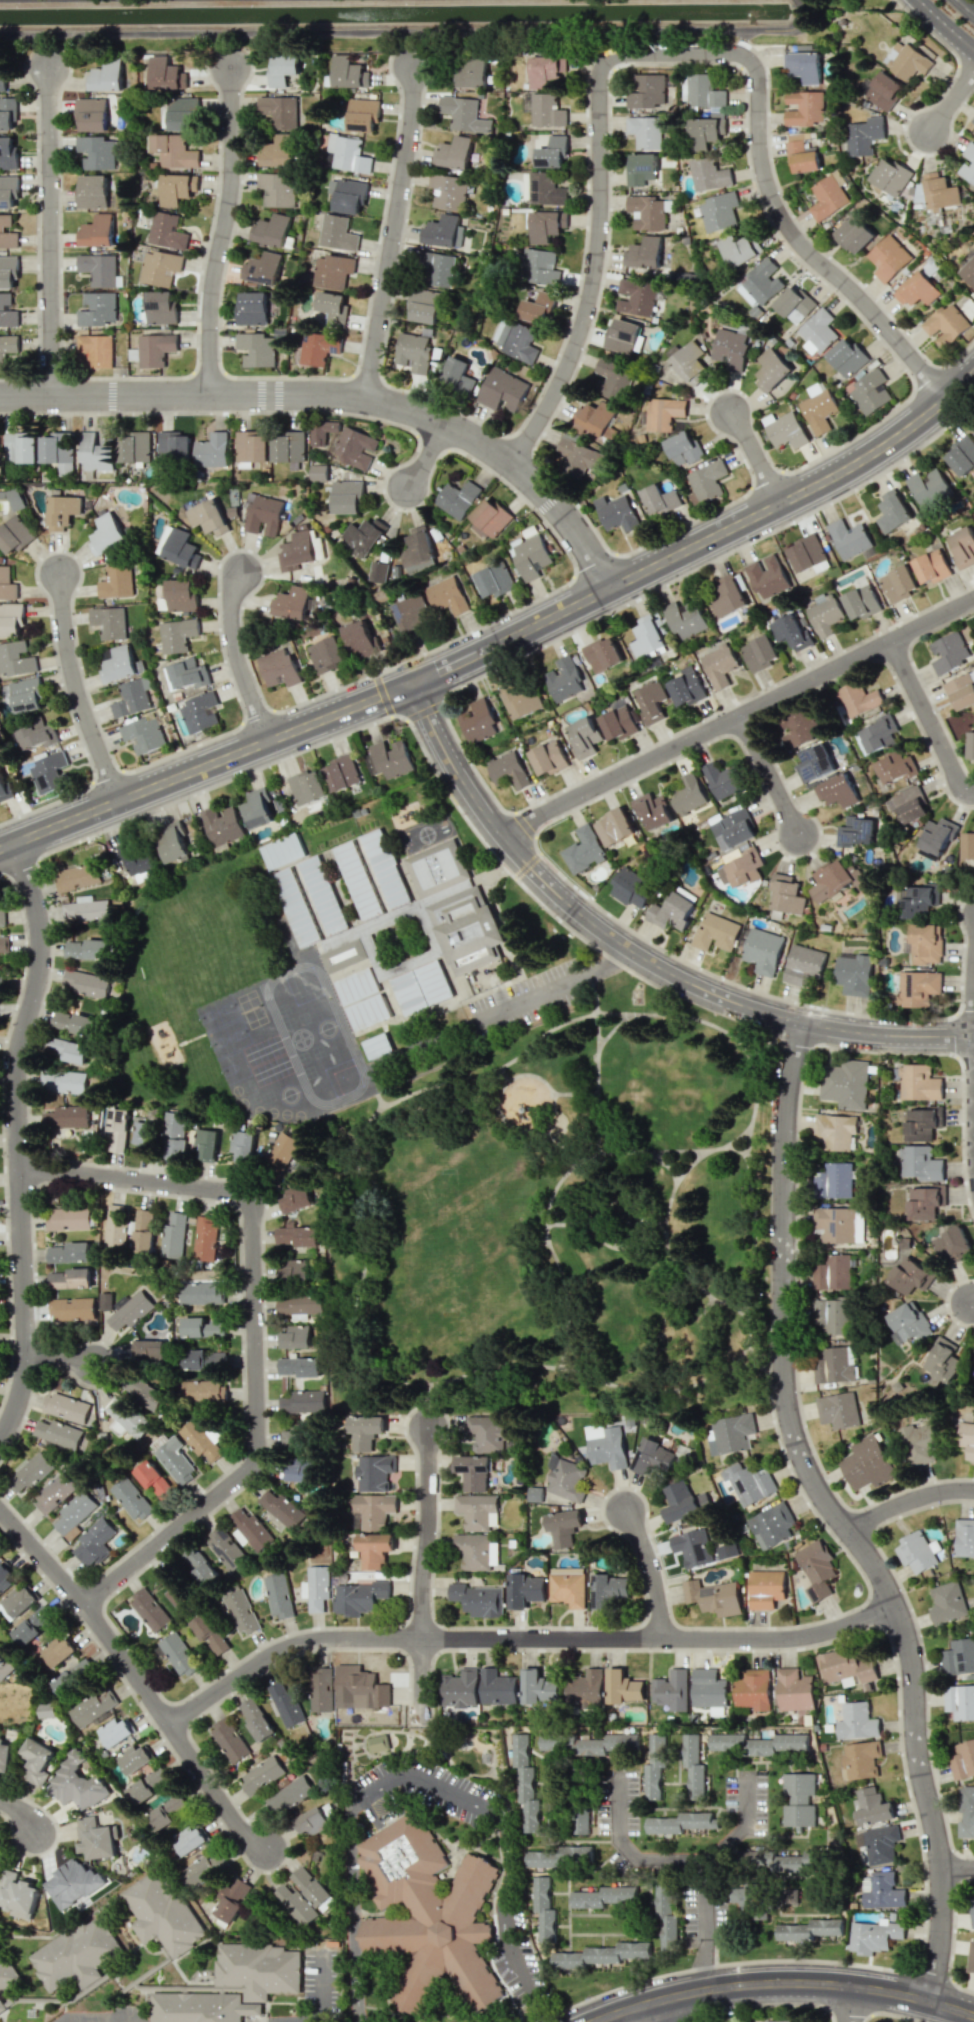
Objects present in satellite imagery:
road: (965, 6)
road: (943, 27)
road: (413, 31)
road: (740, 42)
road: (675, 55)
building: (906, 60)
building: (804, 66)
building: (283, 69)
building: (546, 70)
building: (168, 73)
building: (349, 73)
building: (472, 73)
building: (108, 76)
building: (2, 81)
building: (884, 90)
building: (647, 91)
road: (953, 99)
building: (804, 108)
building: (280, 110)
building: (547, 110)
building: (7, 113)
building: (164, 113)
building: (91, 114)
building: (182, 114)
building: (363, 114)
building: (464, 114)
building: (973, 119)
building: (645, 131)
building: (706, 131)
building: (863, 135)
building: (174, 151)
building: (279, 151)
building: (7, 152)
building: (97, 152)
building: (455, 152)
building: (552, 152)
building: (348, 153)
building: (801, 154)
building: (967, 163)
building: (641, 169)
building: (708, 174)
building: (890, 176)
building: (176, 188)
building: (278, 189)
building: (542, 189)
building: (8, 191)
building: (448, 191)
building: (940, 192)
building: (93, 193)
building: (348, 195)
building: (919, 195)
building: (828, 197)
building: (719, 211)
building: (646, 212)
building: (545, 225)
building: (273, 230)
building: (97, 231)
building: (166, 231)
building: (445, 231)
building: (7, 232)
road: (52, 232)
road: (225, 233)
building: (337, 233)
building: (852, 233)
road: (396, 234)
building: (739, 248)
building: (646, 252)
building: (888, 258)
building: (159, 267)
building: (540, 267)
building: (264, 268)
building: (437, 268)
building: (98, 269)
building: (8, 271)
building: (332, 271)
building: (968, 271)
building: (917, 289)
building: (637, 296)
building: (794, 304)
building: (424, 306)
building: (160, 307)
building: (333, 307)
building: (252, 308)
building: (538, 308)
building: (97, 309)
building: (7, 311)
building: (946, 324)
building: (817, 331)
building: (622, 336)
building: (517, 340)
building: (7, 346)
building: (318, 348)
building: (731, 348)
building: (96, 349)
building: (155, 349)
building: (256, 349)
building: (414, 352)
building: (847, 357)
building: (690, 363)
building: (771, 369)
building: (458, 375)
building: (614, 378)
building: (502, 390)
building: (870, 391)
road: (344, 398)
building: (818, 407)
building: (664, 413)
building: (597, 419)
building: (785, 430)
building: (322, 431)
building: (252, 446)
building: (288, 446)
building: (135, 447)
building: (174, 447)
building: (354, 448)
building: (684, 448)
building: (21, 449)
building: (212, 450)
building: (57, 451)
building: (96, 452)
building: (962, 455)
building: (578, 456)
road: (430, 458)
road: (758, 459)
building: (319, 473)
building: (706, 482)
building: (929, 488)
building: (15, 499)
building: (457, 499)
building: (660, 500)
building: (893, 510)
building: (63, 511)
building: (616, 513)
building: (263, 514)
building: (209, 517)
building: (488, 519)
building: (107, 533)
building: (14, 535)
building: (363, 536)
building: (849, 538)
building: (417, 546)
building: (963, 546)
building: (182, 548)
building: (301, 550)
building: (807, 552)
building: (531, 557)
building: (931, 566)
building: (379, 571)
building: (767, 577)
building: (494, 580)
building: (116, 581)
building: (898, 583)
building: (7, 584)
building: (181, 595)
building: (447, 595)
building: (728, 595)
building: (294, 602)
building: (412, 612)
building: (825, 613)
building: (685, 618)
building: (11, 619)
building: (109, 622)
building: (791, 632)
building: (177, 635)
building: (365, 636)
building: (647, 637)
road: (501, 643)
building: (760, 652)
building: (948, 652)
building: (326, 654)
building: (602, 654)
road: (238, 658)
building: (16, 659)
building: (120, 663)
building: (719, 665)
building: (279, 667)
building: (186, 674)
building: (563, 679)
building: (686, 687)
road: (77, 690)
building: (961, 691)
building: (27, 694)
building: (132, 698)
building: (522, 699)
building: (858, 699)
building: (651, 701)
building: (200, 712)
road: (739, 717)
building: (619, 720)
building: (478, 721)
road: (927, 722)
building: (800, 728)
building: (37, 733)
building: (878, 734)
building: (143, 735)
building: (584, 736)
building: (970, 746)
building: (389, 758)
building: (548, 758)
building: (815, 764)
building: (895, 767)
building: (508, 769)
building: (49, 771)
building: (341, 773)
road: (767, 774)
building: (721, 780)
building: (307, 787)
building: (4, 788)
building: (837, 790)
building: (687, 793)
building: (910, 804)
building: (257, 808)
building: (653, 810)
building: (222, 825)
building: (614, 826)
building: (733, 829)
building: (855, 831)
building: (938, 835)
building: (172, 842)
building: (968, 844)
building: (583, 850)
building: (283, 851)
building: (139, 860)
building: (438, 866)
building: (740, 866)
building: (372, 874)
building: (77, 876)
building: (831, 880)
building: (631, 887)
building: (786, 894)
building: (917, 900)
building: (310, 901)
building: (86, 909)
building: (673, 910)
building: (2, 915)
building: (468, 928)
building: (716, 933)
building: (926, 943)
building: (3, 944)
building: (87, 949)
road: (635, 951)
building: (763, 951)
building: (345, 953)
building: (803, 964)
building: (854, 974)
building: (0, 980)
building: (86, 982)
building: (421, 987)
road: (549, 987)
building: (917, 987)
building: (362, 999)
park: (217, 1010)
building: (73, 1022)
road: (608, 1032)
park: (228, 1037)
building: (377, 1045)
building: (68, 1050)
park: (233, 1066)
road: (539, 1079)
building: (64, 1082)
building: (845, 1083)
building: (919, 1083)
building: (66, 1117)
building: (921, 1123)
building: (118, 1128)
road: (559, 1131)
building: (834, 1131)
building: (175, 1133)
building: (142, 1136)
road: (17, 1140)
building: (206, 1143)
building: (242, 1145)
building: (281, 1151)
building: (920, 1163)
building: (833, 1180)
building: (297, 1197)
building: (925, 1201)
park: (557, 1218)
building: (67, 1219)
road: (604, 1219)
road: (749, 1221)
building: (834, 1224)
building: (115, 1229)
building: (143, 1230)
building: (173, 1235)
building: (299, 1235)
building: (205, 1238)
building: (953, 1245)
building: (68, 1252)
building: (295, 1271)
building: (832, 1272)
building: (911, 1275)
building: (70, 1278)
building: (198, 1293)
building: (104, 1301)
road: (973, 1302)
building: (299, 1306)
building: (71, 1308)
building: (130, 1311)
building: (831, 1315)
road: (255, 1322)
building: (910, 1322)
building: (202, 1327)
building: (297, 1337)
building: (973, 1347)
building: (147, 1348)
road: (60, 1358)
building: (205, 1360)
road: (729, 1360)
building: (944, 1360)
building: (833, 1365)
building: (299, 1367)
building: (204, 1391)
building: (145, 1392)
building: (303, 1402)
building: (65, 1407)
building: (838, 1410)
building: (124, 1418)
building: (365, 1431)
building: (488, 1433)
building: (730, 1434)
building: (60, 1435)
building: (296, 1438)
building: (201, 1439)
building: (967, 1439)
building: (919, 1444)
building: (607, 1445)
building: (655, 1458)
building: (175, 1460)
building: (868, 1462)
building: (302, 1470)
building: (474, 1471)
building: (374, 1472)
building: (29, 1473)
building: (565, 1479)
building: (154, 1480)
building: (748, 1483)
building: (53, 1492)
building: (131, 1498)
road: (908, 1499)
building: (684, 1502)
building: (281, 1508)
building: (373, 1511)
building: (478, 1511)
building: (74, 1514)
road: (838, 1515)
building: (772, 1525)
building: (564, 1528)
building: (250, 1529)
road: (428, 1532)
building: (965, 1537)
building: (94, 1542)
building: (692, 1548)
building: (226, 1549)
building: (375, 1550)
building: (727, 1551)
building: (916, 1552)
building: (200, 1566)
building: (816, 1569)
road: (653, 1570)
building: (6, 1575)
building: (568, 1586)
building: (317, 1587)
building: (766, 1588)
building: (525, 1590)
building: (180, 1592)
building: (279, 1595)
building: (359, 1597)
building: (714, 1597)
building: (478, 1599)
building: (947, 1602)
building: (150, 1610)
building: (241, 1611)
building: (32, 1626)
building: (210, 1632)
road: (523, 1638)
building: (58, 1651)
building: (179, 1654)
building: (958, 1657)
building: (2, 1660)
building: (845, 1666)
road: (136, 1673)
building: (74, 1678)
road: (423, 1681)
building: (497, 1687)
building: (585, 1687)
building: (623, 1687)
building: (359, 1688)
building: (460, 1688)
building: (538, 1688)
building: (708, 1688)
building: (321, 1689)
building: (753, 1689)
building: (794, 1689)
building: (671, 1690)
building: (960, 1701)
building: (285, 1703)
building: (93, 1706)
building: (47, 1710)
building: (256, 1719)
building: (857, 1721)
building: (116, 1731)
building: (229, 1739)
building: (378, 1743)
building: (589, 1743)
building: (758, 1744)
building: (5, 1756)
building: (135, 1758)
building: (860, 1759)
building: (962, 1760)
building: (37, 1761)
building: (655, 1766)
building: (693, 1766)
building: (261, 1774)
road: (424, 1781)
building: (78, 1784)
building: (525, 1784)
building: (141, 1791)
building: (290, 1793)
building: (799, 1799)
building: (872, 1806)
building: (167, 1812)
building: (966, 1812)
road: (22, 1814)
building: (316, 1819)
building: (682, 1822)
building: (582, 1823)
road: (746, 1832)
building: (96, 1838)
building: (190, 1839)
building: (879, 1843)
building: (575, 1852)
building: (541, 1859)
building: (783, 1859)
road: (685, 1861)
road: (958, 1868)
building: (202, 1870)
building: (313, 1888)
building: (883, 1890)
building: (18, 1895)
building: (603, 1896)
building: (748, 1898)
building: (232, 1899)
building: (295, 1904)
building: (544, 1908)
building: (972, 1913)
building: (428, 1914)
building: (164, 1916)
building: (667, 1919)
building: (812, 1929)
building: (873, 1936)
building: (75, 1955)
building: (600, 1955)
building: (970, 1958)
building: (6, 1973)
road: (784, 1983)
building: (235, 1985)
road: (852, 2004)
building: (1, 2008)
road: (653, 2012)
road: (98, 2019)
building: (779, 2021)

